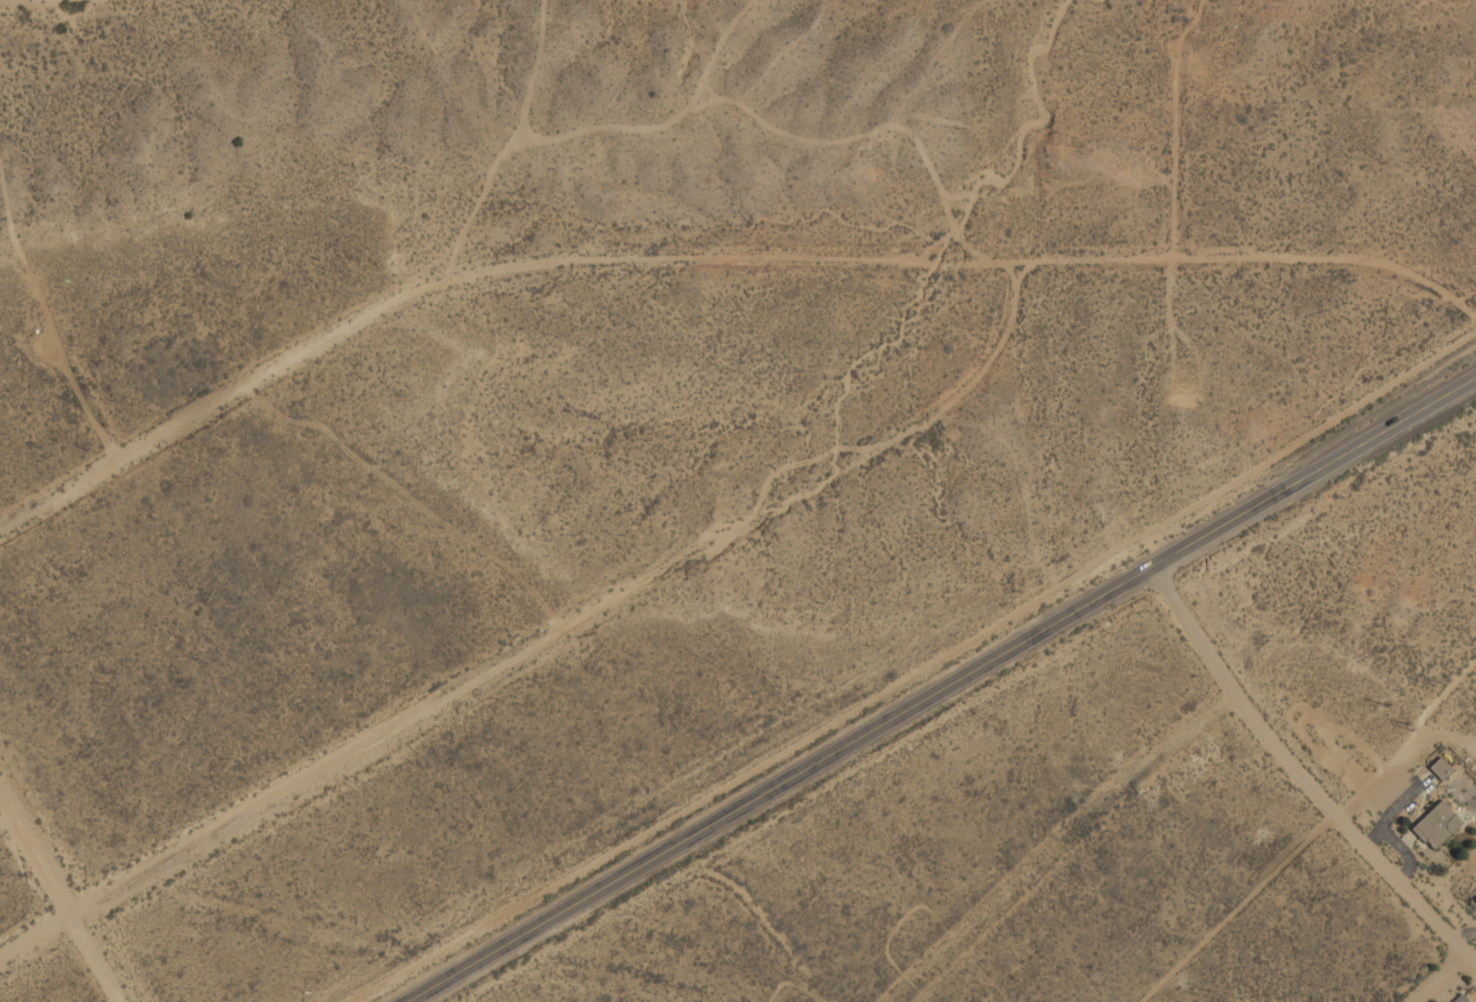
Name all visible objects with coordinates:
road: (755, 255)
road: (949, 694)
power tower: (1388, 708)
power tower: (1409, 728)
building: (1440, 769)
road: (1306, 779)
road: (298, 783)
building: (1436, 825)
road: (65, 892)
road: (1439, 979)
building: (1460, 999)

